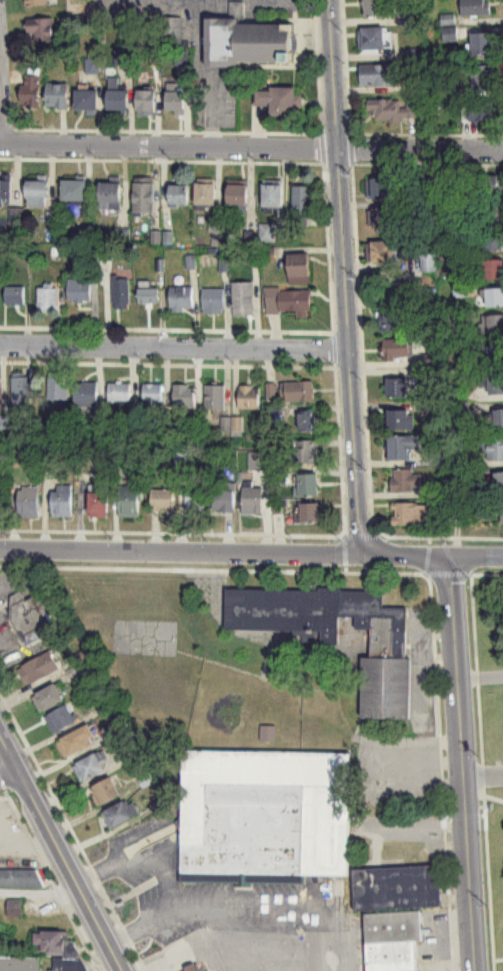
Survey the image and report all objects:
building: (38, 3)
road: (213, 3)
road: (237, 3)
road: (288, 3)
building: (475, 6)
building: (375, 9)
building: (41, 30)
building: (171, 31)
building: (375, 39)
building: (249, 42)
building: (482, 43)
road: (204, 74)
building: (481, 75)
building: (379, 76)
building: (32, 88)
building: (58, 97)
building: (86, 102)
building: (118, 102)
building: (280, 102)
building: (146, 103)
building: (176, 103)
building: (479, 110)
road: (2, 112)
building: (392, 112)
road: (251, 147)
building: (483, 185)
building: (382, 190)
building: (5, 193)
building: (75, 193)
building: (38, 195)
building: (143, 196)
building: (179, 196)
building: (206, 196)
building: (237, 196)
building: (273, 196)
building: (110, 197)
building: (302, 205)
building: (492, 214)
building: (382, 221)
building: (267, 234)
building: (493, 243)
building: (382, 253)
building: (429, 263)
building: (299, 270)
building: (492, 271)
road: (344, 278)
building: (79, 291)
building: (121, 293)
building: (148, 294)
building: (14, 296)
building: (182, 299)
building: (243, 299)
building: (494, 299)
building: (48, 300)
building: (213, 300)
building: (288, 302)
building: (396, 319)
building: (491, 326)
road: (174, 349)
building: (398, 350)
building: (495, 356)
building: (496, 385)
building: (58, 389)
building: (397, 389)
building: (21, 391)
building: (299, 392)
building: (120, 393)
building: (1, 395)
building: (86, 395)
building: (153, 395)
building: (184, 396)
building: (215, 398)
building: (249, 398)
building: (400, 421)
building: (499, 421)
building: (306, 422)
building: (402, 448)
building: (494, 449)
building: (305, 453)
building: (407, 482)
building: (499, 482)
building: (307, 486)
building: (194, 500)
building: (252, 500)
building: (162, 501)
building: (223, 501)
building: (62, 502)
building: (98, 502)
building: (128, 502)
building: (29, 503)
building: (310, 513)
building: (411, 515)
road: (179, 552)
road: (405, 557)
road: (477, 558)
building: (30, 617)
building: (338, 633)
building: (39, 668)
road: (481, 676)
building: (49, 698)
building: (61, 720)
building: (76, 742)
road: (463, 764)
building: (89, 768)
road: (7, 771)
road: (483, 775)
building: (105, 791)
building: (120, 814)
building: (264, 817)
road: (59, 856)
road: (167, 875)
building: (19, 878)
road: (36, 887)
building: (14, 908)
building: (396, 911)
building: (50, 942)
building: (20, 963)
building: (69, 964)
road: (151, 965)
building: (193, 969)

